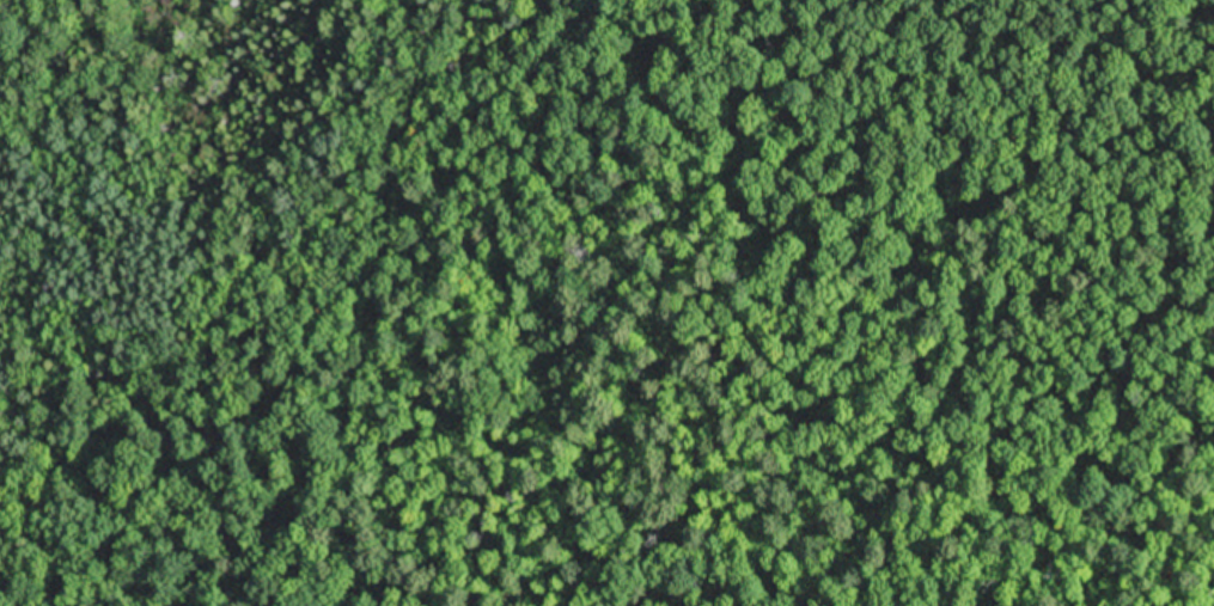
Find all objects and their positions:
road: (1206, 598)

